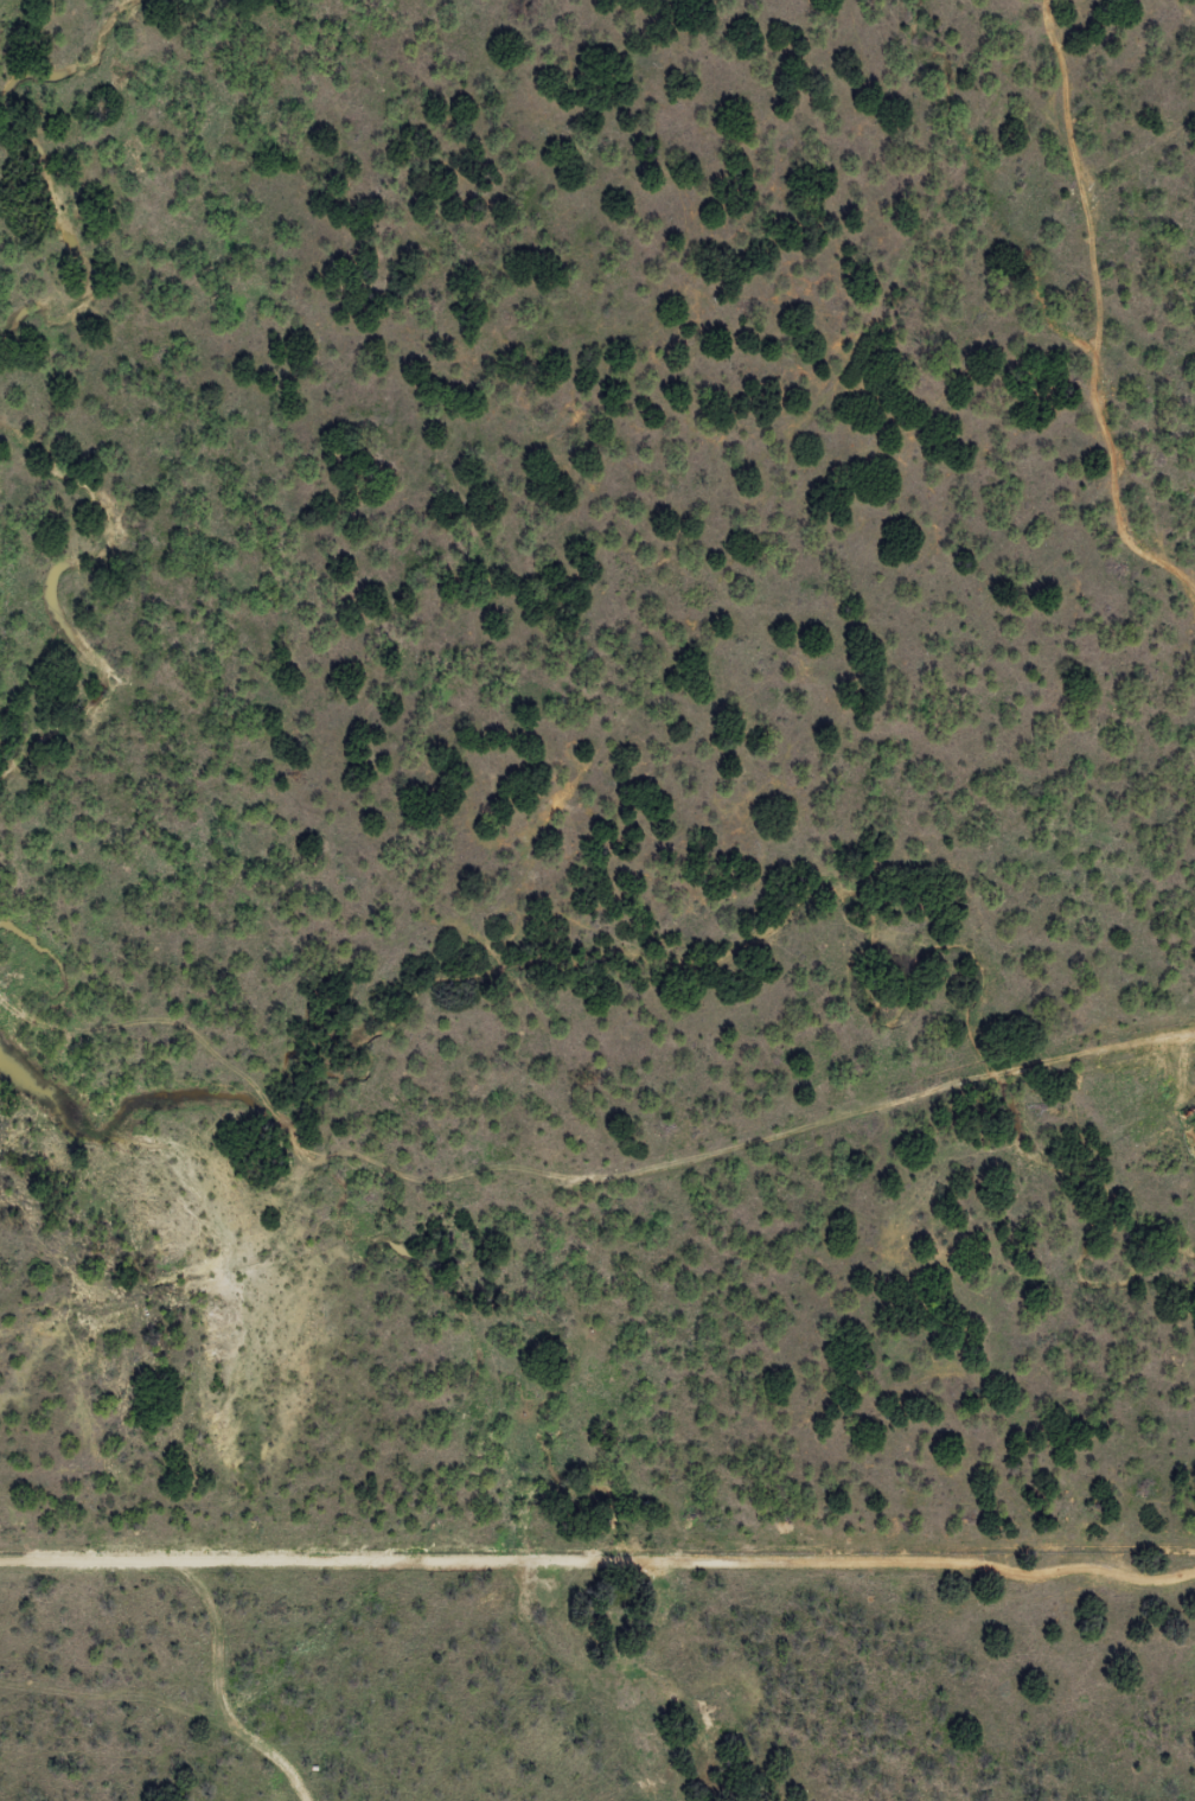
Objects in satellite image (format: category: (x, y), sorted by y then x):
road: (1117, 249)
road: (635, 1174)
road: (181, 1719)

